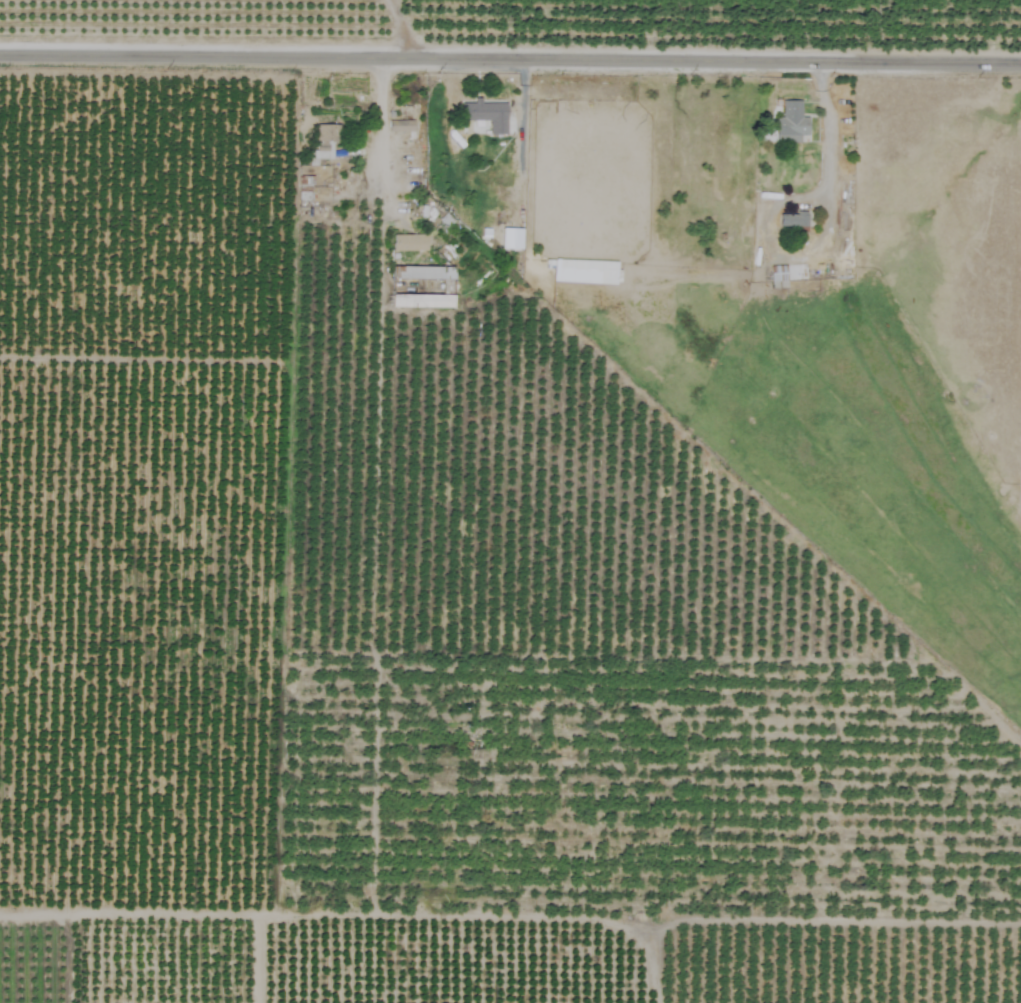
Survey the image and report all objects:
road: (402, 29)
road: (510, 59)
building: (485, 115)
building: (789, 123)
building: (399, 126)
road: (376, 134)
building: (323, 142)
building: (312, 178)
building: (791, 219)
building: (510, 238)
building: (408, 242)
building: (583, 271)
building: (425, 274)
building: (777, 276)
building: (420, 301)
crop: (510, 501)

